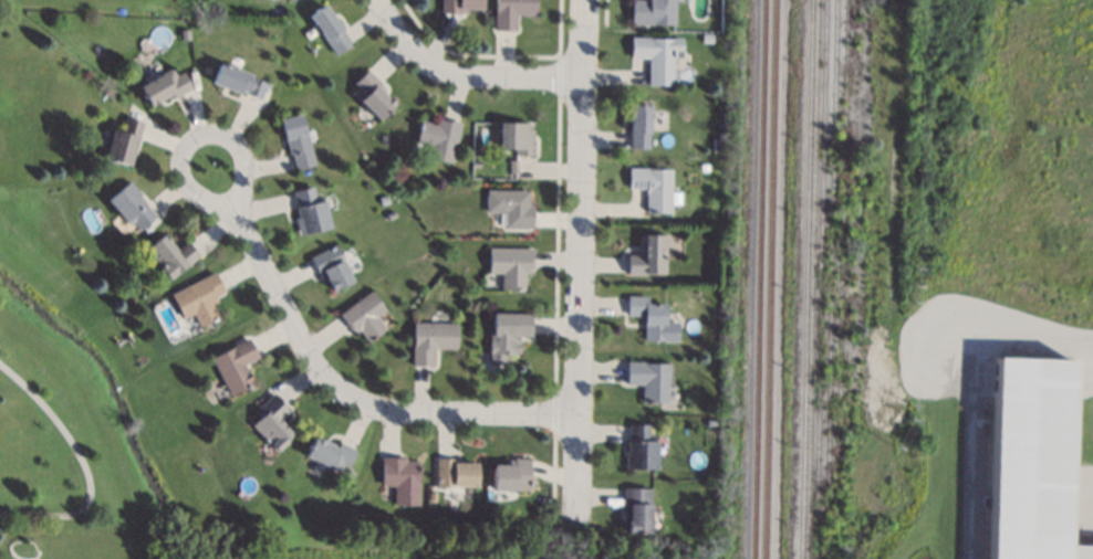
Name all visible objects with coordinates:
building: (287, 0)
building: (290, 0)
park: (4, 2)
building: (460, 7)
building: (512, 12)
building: (653, 12)
building: (330, 30)
building: (186, 34)
building: (708, 39)
road: (412, 51)
building: (657, 57)
building: (86, 74)
road: (525, 77)
building: (239, 82)
building: (165, 86)
building: (372, 95)
building: (639, 126)
road: (196, 137)
building: (439, 138)
building: (516, 138)
building: (298, 141)
building: (124, 143)
building: (477, 165)
building: (705, 168)
building: (507, 171)
building: (653, 188)
building: (384, 201)
building: (131, 205)
building: (511, 208)
building: (311, 211)
building: (170, 256)
building: (648, 256)
road: (577, 259)
railway: (832, 259)
railway: (842, 260)
building: (510, 266)
building: (332, 268)
railway: (757, 279)
railway: (769, 279)
railway: (806, 279)
railway: (821, 279)
building: (198, 299)
building: (364, 316)
building: (652, 319)
building: (507, 335)
building: (431, 340)
building: (235, 366)
building: (649, 379)
road: (971, 393)
road: (356, 399)
building: (272, 422)
park: (71, 425)
building: (641, 447)
building: (330, 454)
building: (1030, 461)
road: (83, 465)
building: (455, 473)
building: (347, 475)
building: (511, 476)
building: (402, 479)
building: (431, 505)
building: (637, 509)
park: (352, 546)

